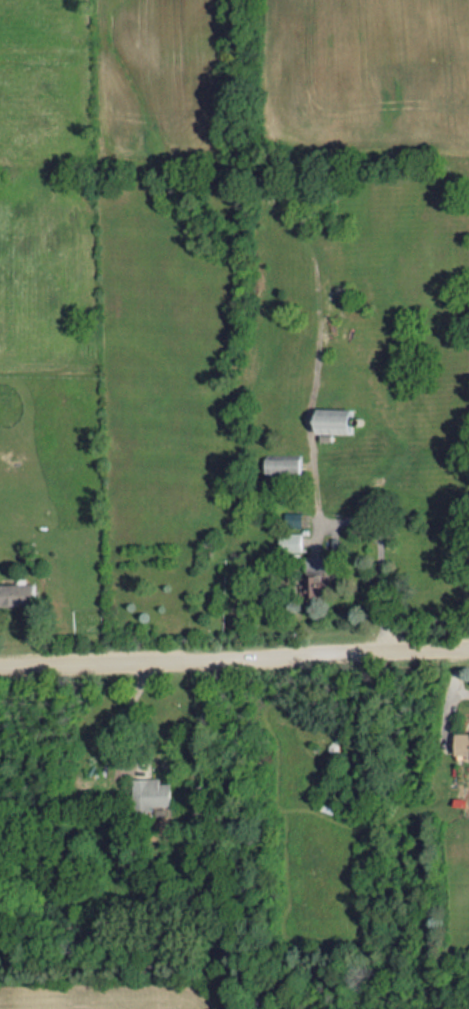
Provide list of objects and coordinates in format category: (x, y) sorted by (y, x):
crop: (159, 69)
crop: (370, 70)
crop: (47, 187)
building: (337, 420)
building: (285, 463)
building: (292, 541)
building: (325, 583)
building: (18, 594)
road: (234, 661)
road: (458, 677)
road: (123, 710)
building: (463, 743)
building: (150, 791)

